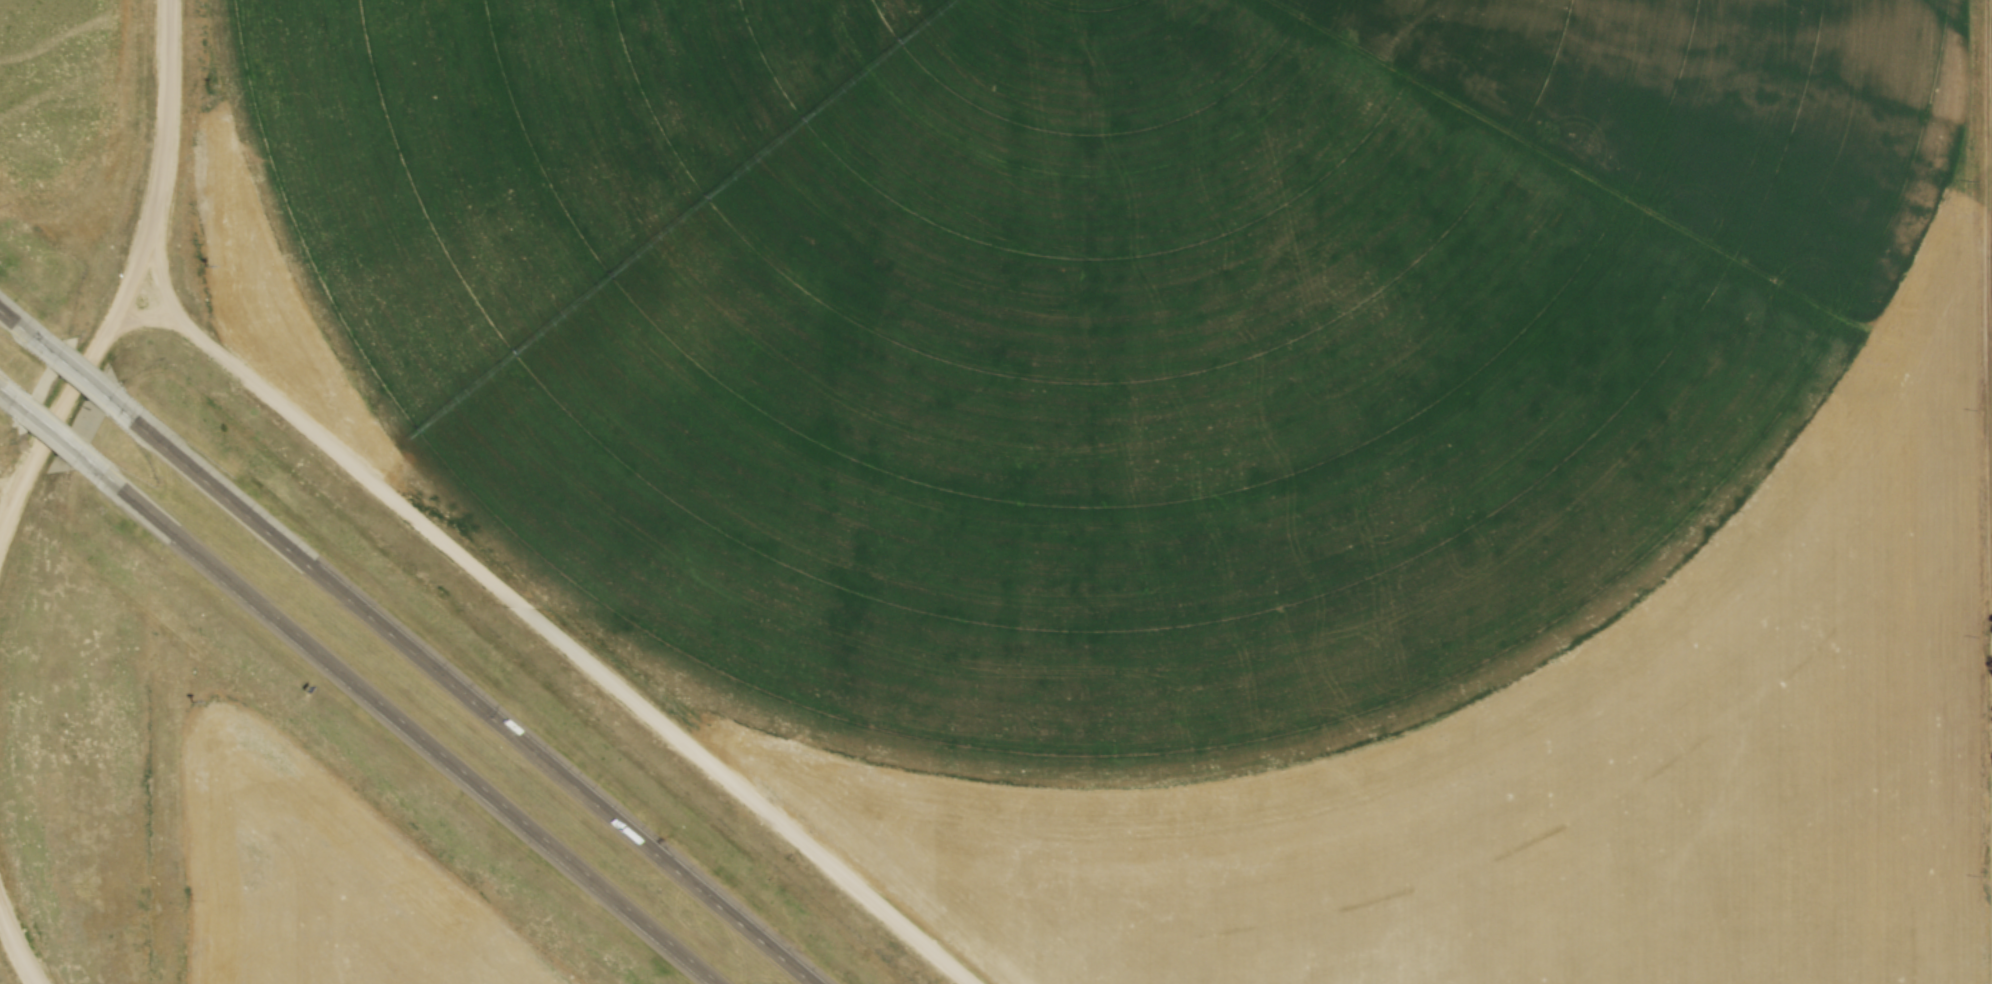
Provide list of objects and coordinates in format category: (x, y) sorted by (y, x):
road: (133, 275)
road: (28, 334)
road: (88, 385)
road: (10, 396)
road: (54, 433)
crop: (1204, 442)
road: (541, 636)
road: (466, 698)
road: (403, 723)
crop: (309, 882)
road: (12, 960)

